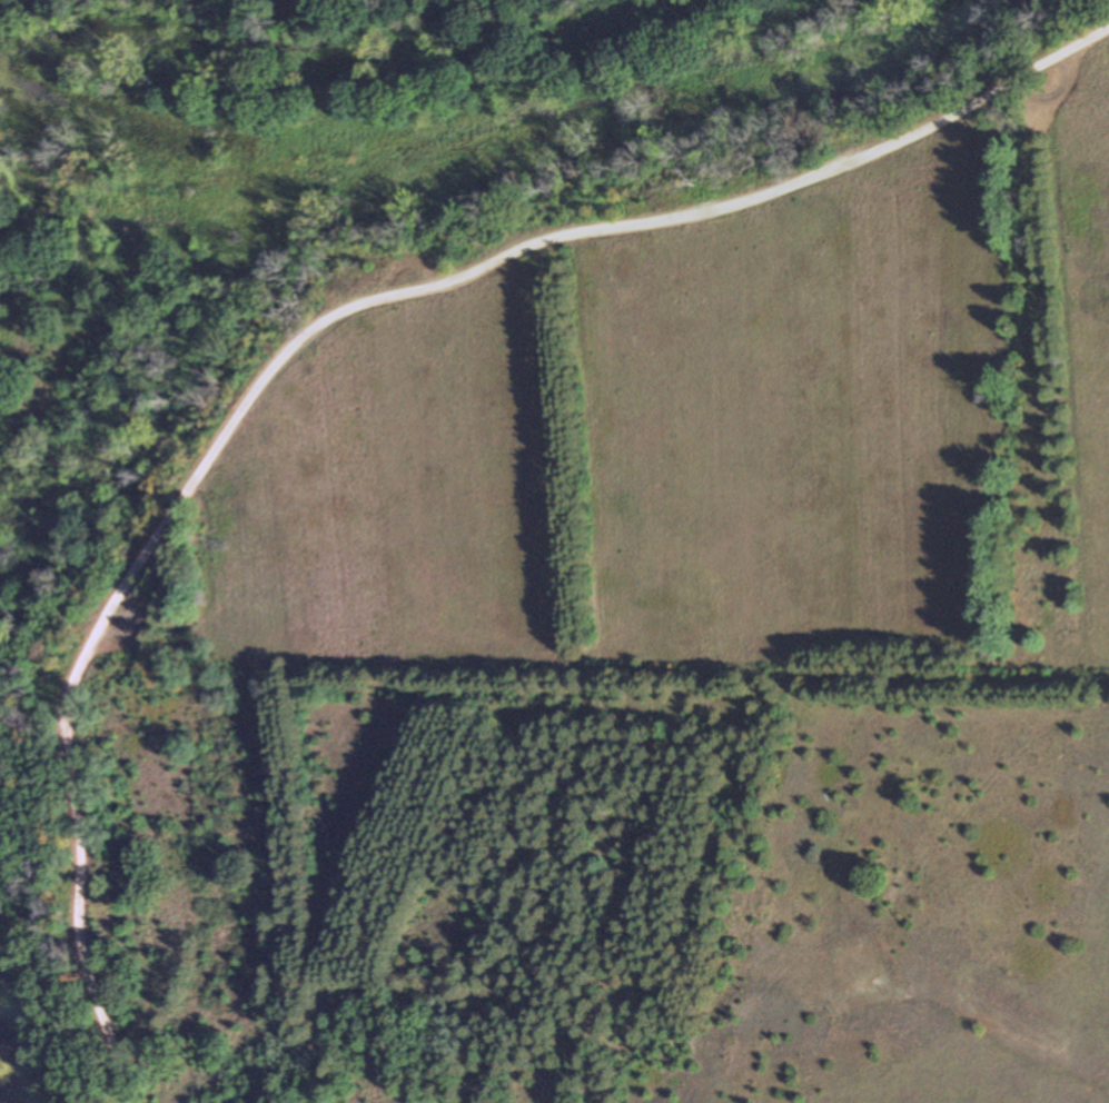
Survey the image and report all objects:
road: (313, 329)
airport: (1020, 1061)

